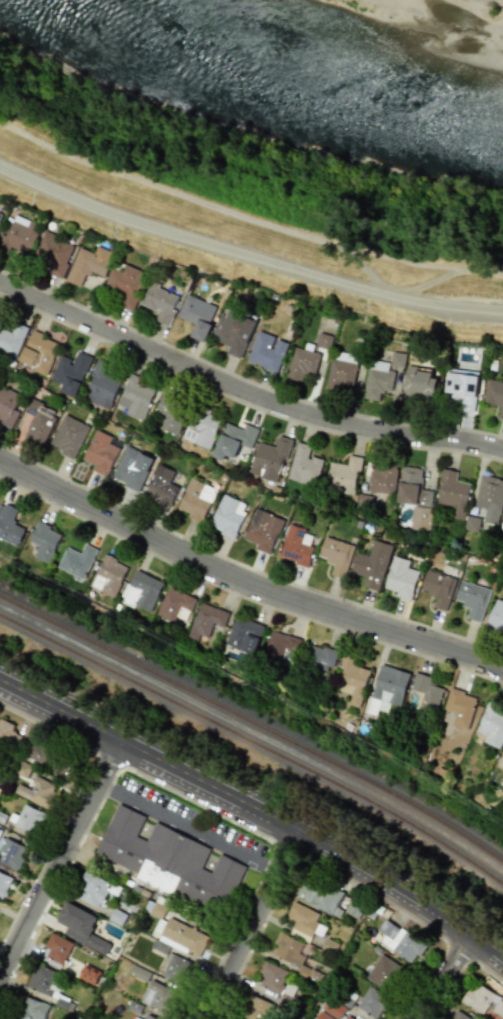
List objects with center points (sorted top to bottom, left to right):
river: (292, 67)
building: (0, 212)
road: (246, 217)
building: (19, 234)
building: (52, 253)
road: (247, 254)
building: (87, 264)
building: (125, 284)
road: (398, 293)
building: (159, 301)
building: (196, 316)
building: (232, 332)
building: (11, 338)
building: (323, 341)
building: (38, 351)
building: (266, 351)
building: (397, 359)
building: (301, 363)
building: (341, 371)
building: (70, 372)
building: (377, 379)
building: (418, 380)
building: (101, 385)
building: (460, 388)
road: (244, 391)
building: (494, 394)
building: (136, 396)
building: (7, 406)
building: (170, 411)
building: (36, 420)
building: (201, 428)
building: (69, 436)
building: (235, 438)
building: (100, 452)
building: (269, 459)
building: (304, 465)
building: (132, 468)
building: (343, 475)
building: (382, 479)
building: (161, 485)
building: (412, 488)
building: (452, 493)
building: (196, 498)
building: (489, 498)
building: (227, 515)
building: (502, 515)
building: (420, 518)
building: (9, 525)
building: (263, 530)
building: (43, 541)
building: (296, 545)
building: (335, 555)
building: (75, 560)
building: (372, 564)
building: (107, 575)
building: (400, 578)
road: (244, 581)
building: (438, 588)
building: (140, 590)
building: (472, 599)
building: (172, 603)
building: (495, 617)
building: (205, 620)
building: (243, 634)
building: (280, 648)
building: (318, 657)
building: (352, 679)
building: (389, 685)
building: (426, 697)
railway: (253, 704)
building: (460, 707)
railway: (254, 723)
building: (491, 725)
building: (8, 735)
railway: (255, 742)
building: (502, 749)
building: (47, 759)
building: (22, 769)
building: (37, 793)
road: (257, 809)
building: (28, 819)
road: (187, 826)
building: (11, 854)
building: (171, 861)
road: (55, 862)
building: (4, 883)
building: (91, 889)
road: (154, 893)
building: (320, 895)
building: (305, 920)
road: (252, 924)
building: (81, 926)
building: (178, 937)
building: (400, 941)
building: (57, 948)
building: (288, 949)
building: (176, 969)
building: (385, 973)
building: (89, 974)
road: (443, 976)
building: (272, 977)
building: (42, 980)
building: (160, 997)
building: (483, 1000)
building: (372, 1002)
building: (257, 1008)
building: (32, 1009)
building: (330, 1010)
building: (459, 1015)
building: (149, 1017)
building: (136, 1018)
building: (347, 1018)

